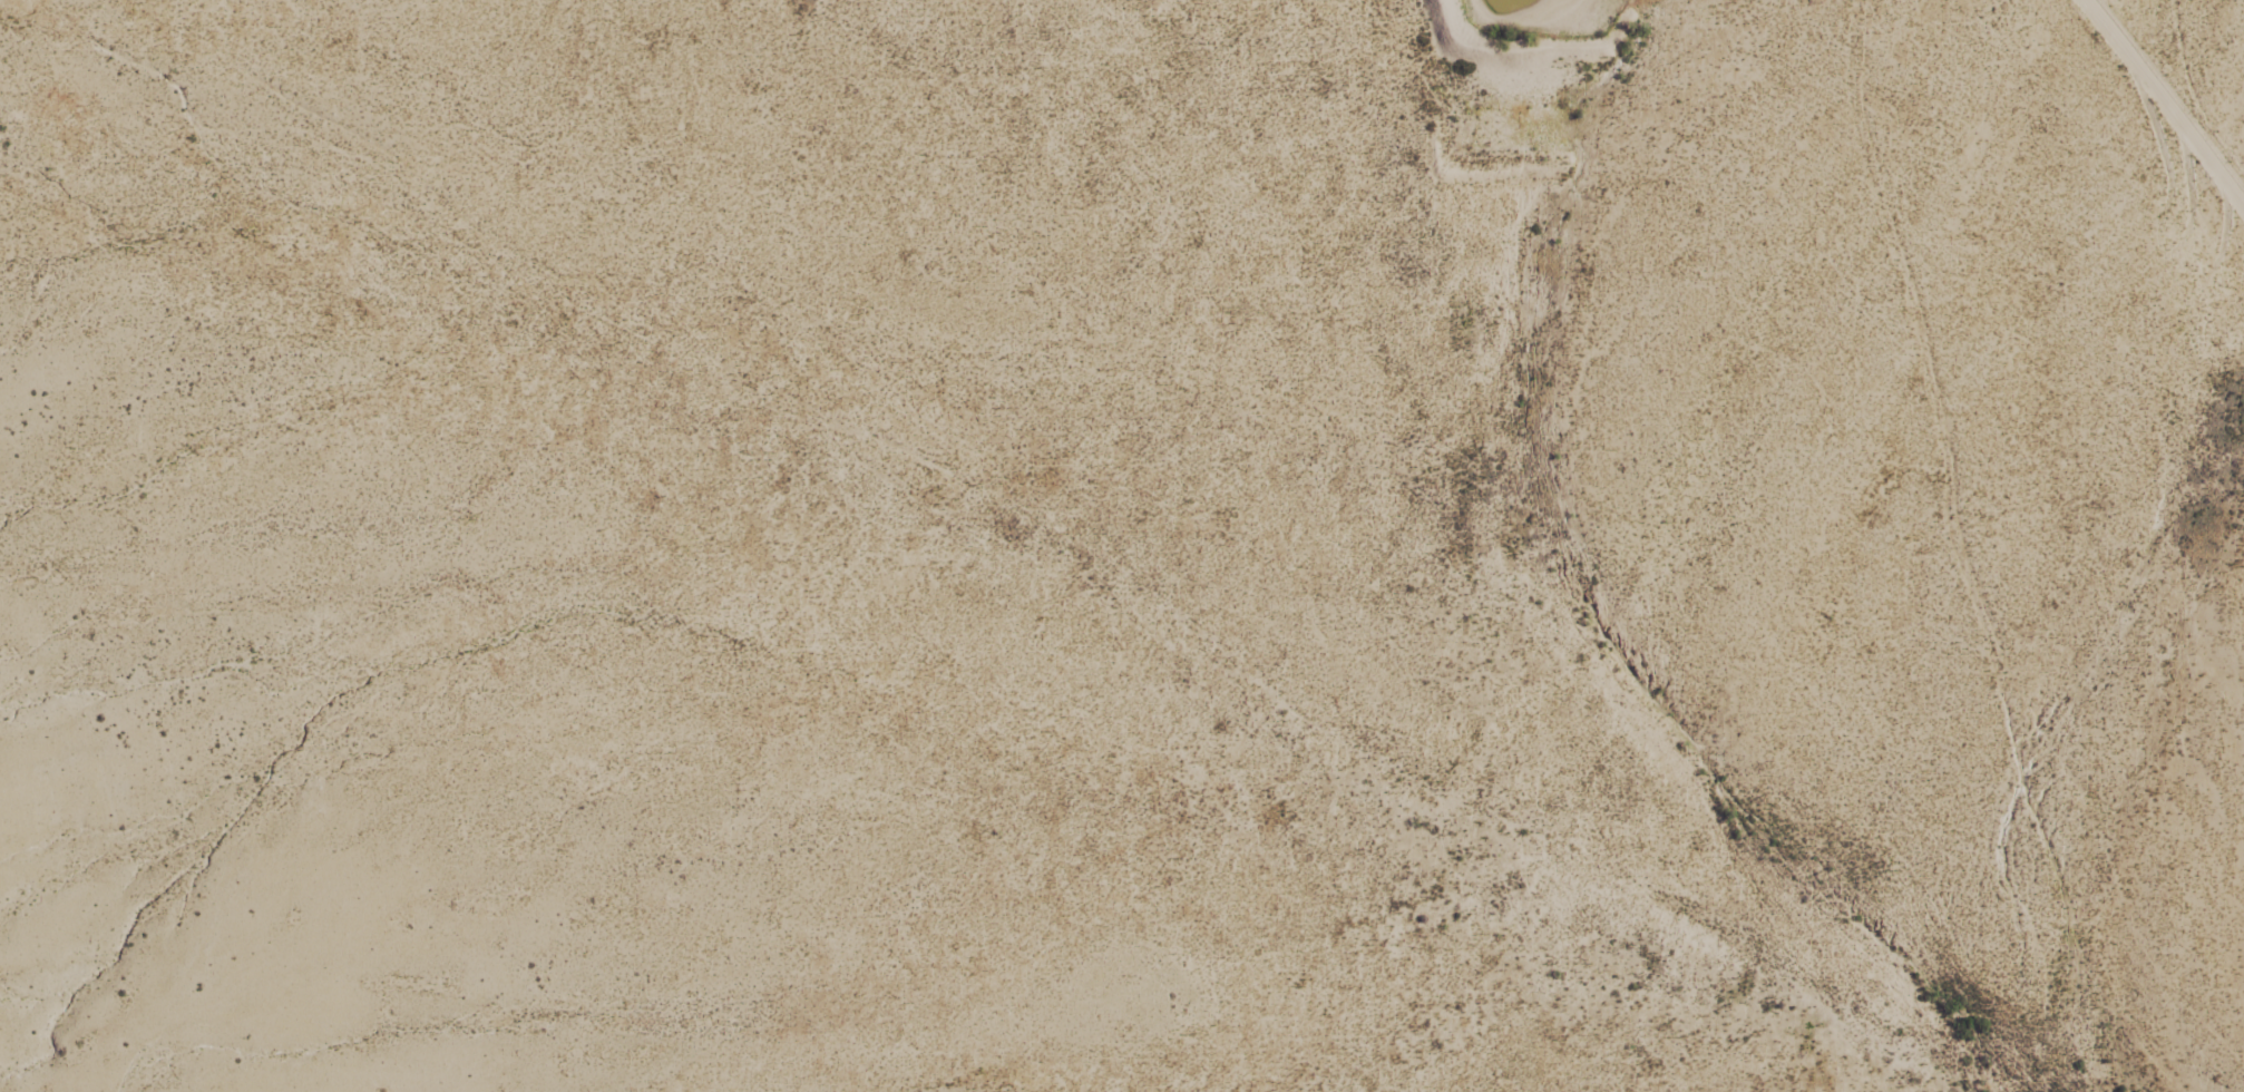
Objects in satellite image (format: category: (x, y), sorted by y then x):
road: (2162, 107)

